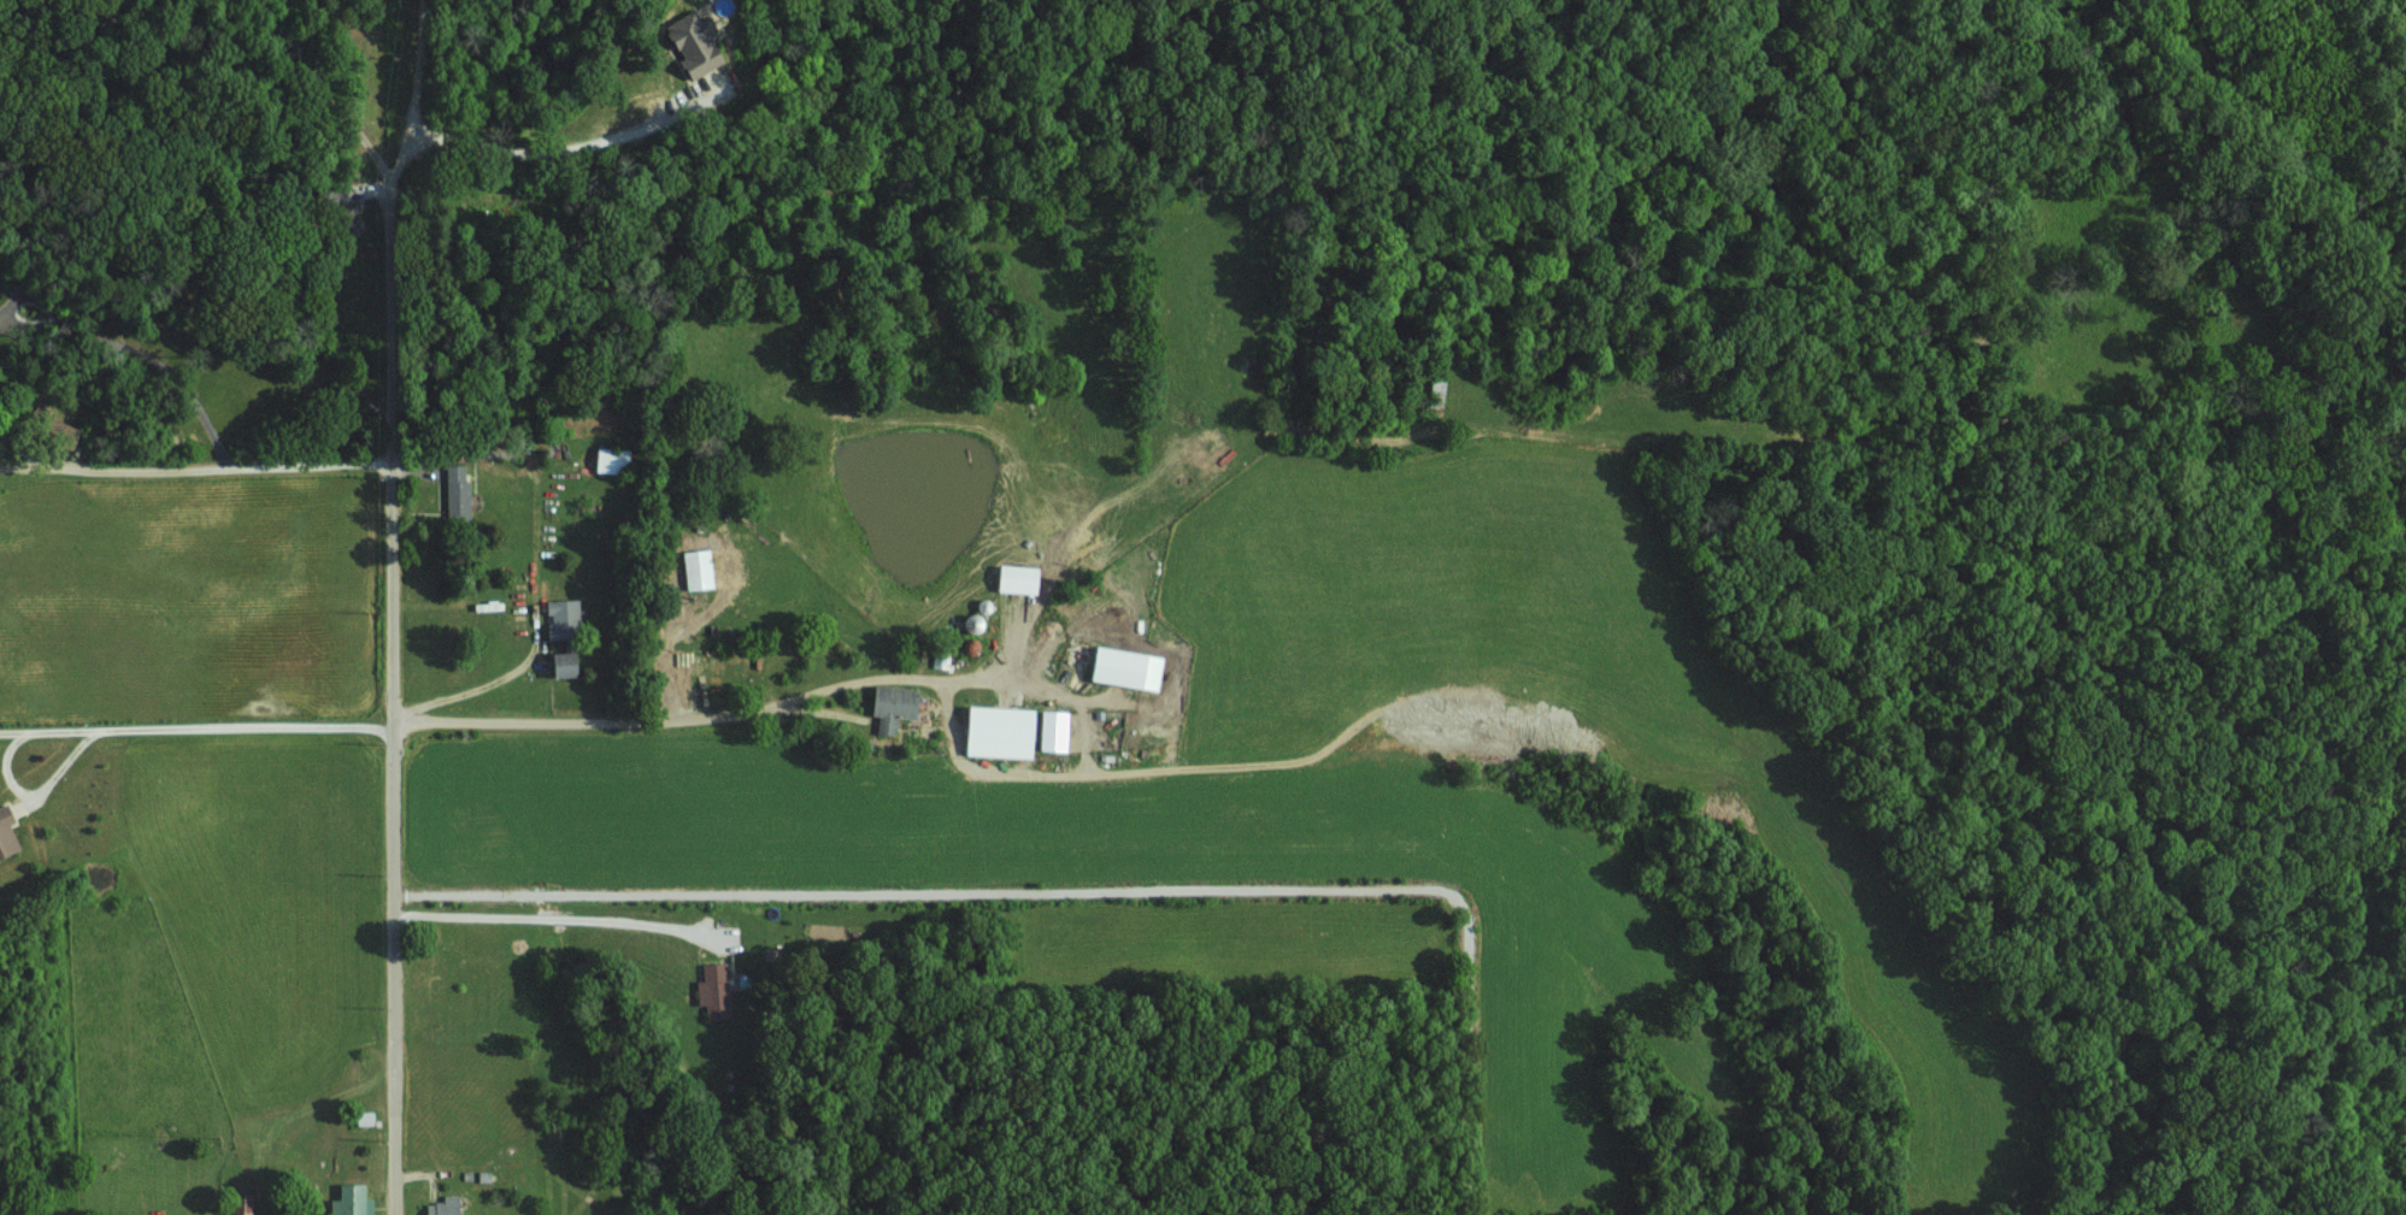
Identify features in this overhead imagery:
building: (698, 42)
road: (417, 92)
road: (529, 153)
road: (137, 354)
road: (447, 452)
building: (616, 460)
road: (11, 461)
road: (1330, 493)
building: (459, 494)
building: (701, 570)
building: (1020, 579)
road: (388, 588)
building: (566, 619)
building: (570, 665)
building: (1131, 668)
road: (1037, 678)
building: (896, 707)
road: (195, 730)
building: (1058, 731)
building: (1005, 732)
building: (8, 832)
road: (1088, 885)
road: (555, 920)
building: (716, 989)
building: (352, 1199)
building: (448, 1205)

